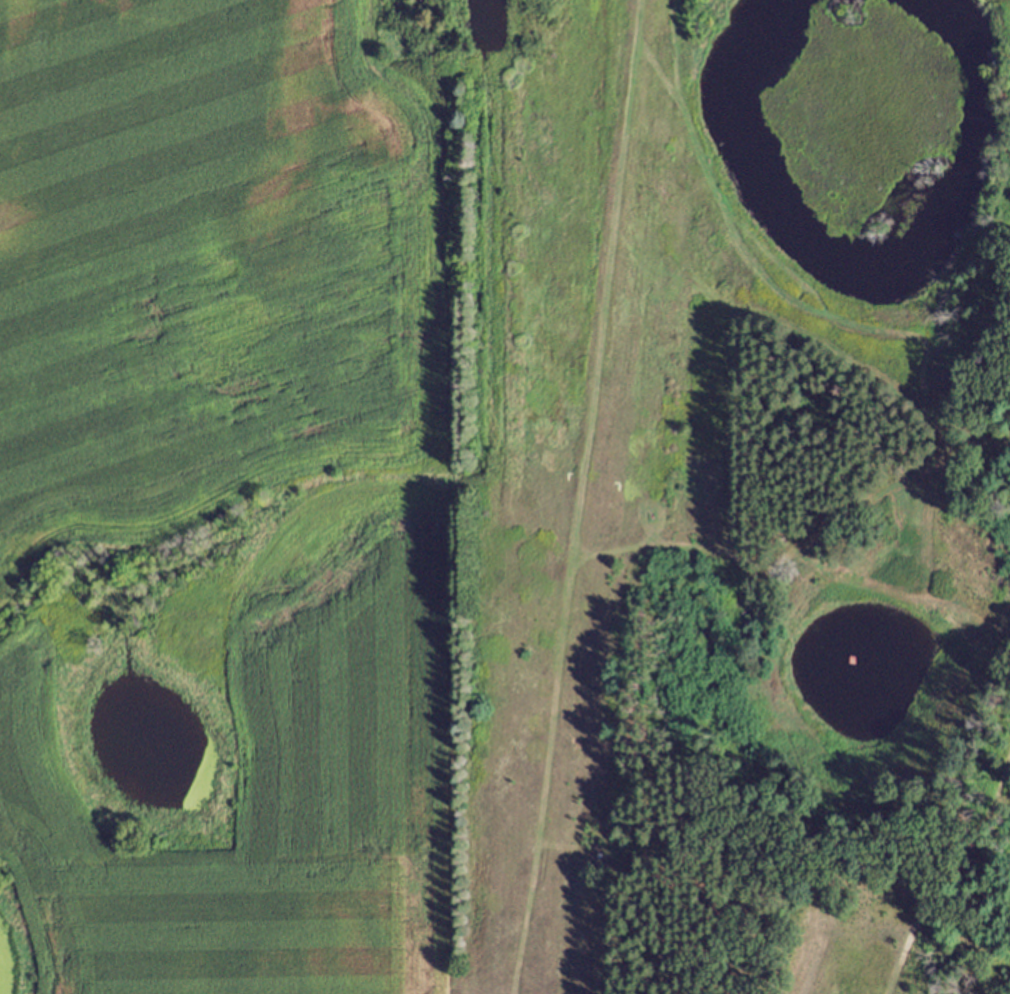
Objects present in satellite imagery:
road: (398, 211)
road: (13, 417)
airport: (571, 452)
airport runway: (577, 497)

